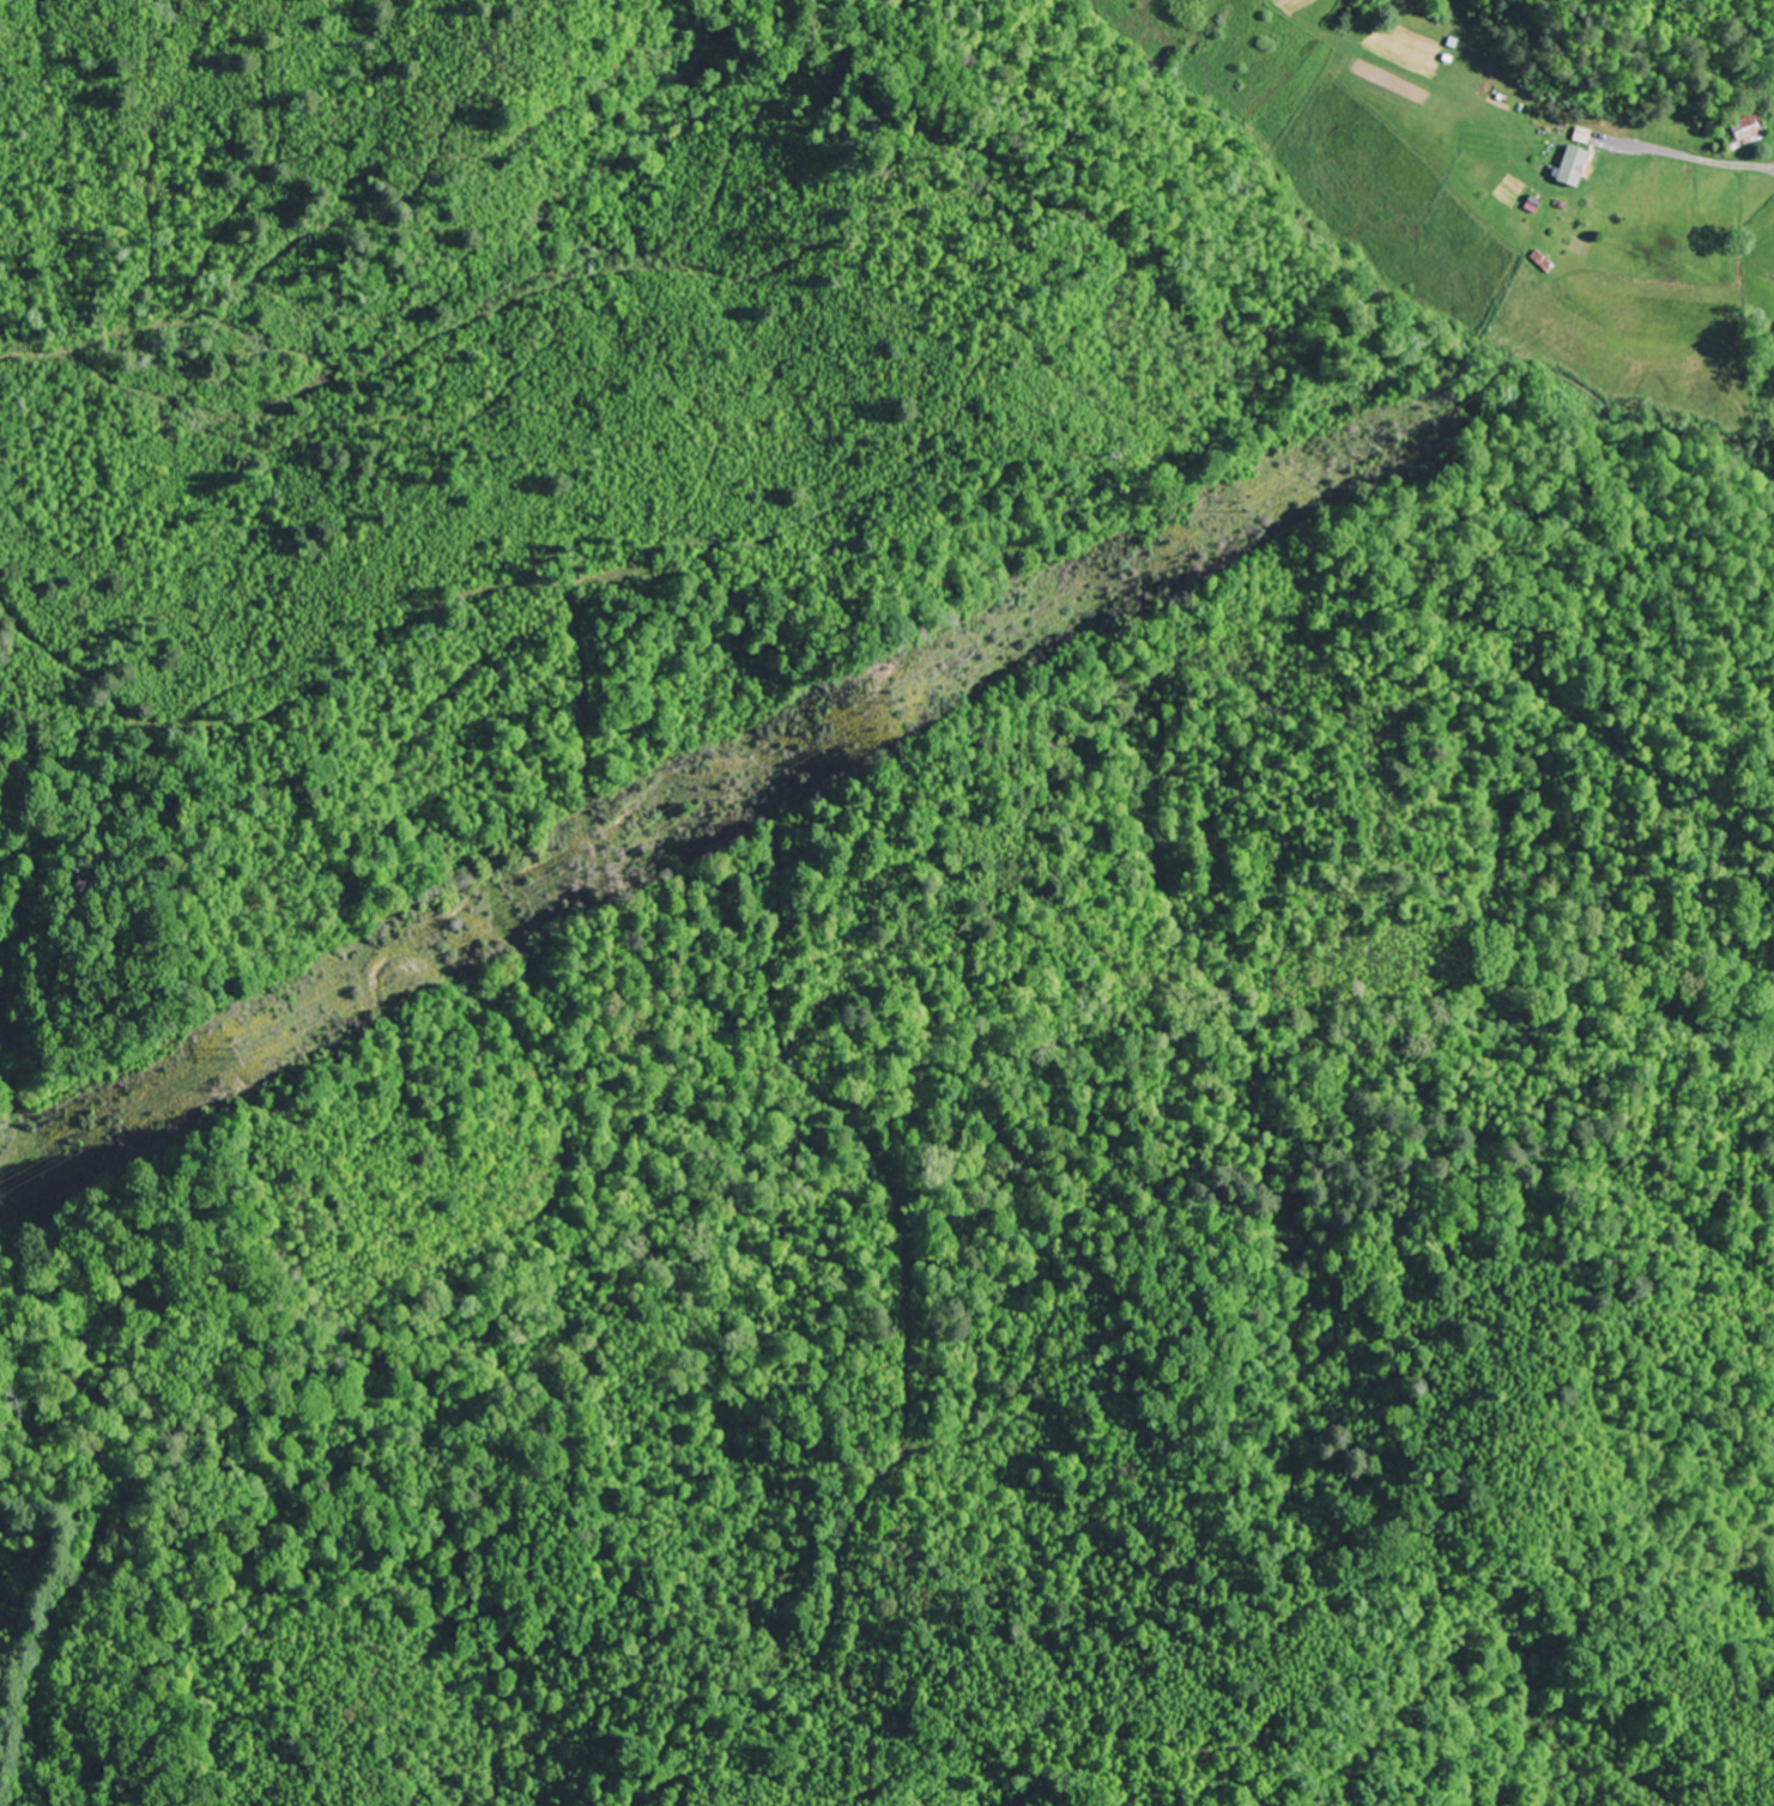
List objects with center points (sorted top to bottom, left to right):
building: (1739, 131)
building: (1580, 134)
road: (1682, 154)
building: (1568, 165)
power tower: (918, 685)

